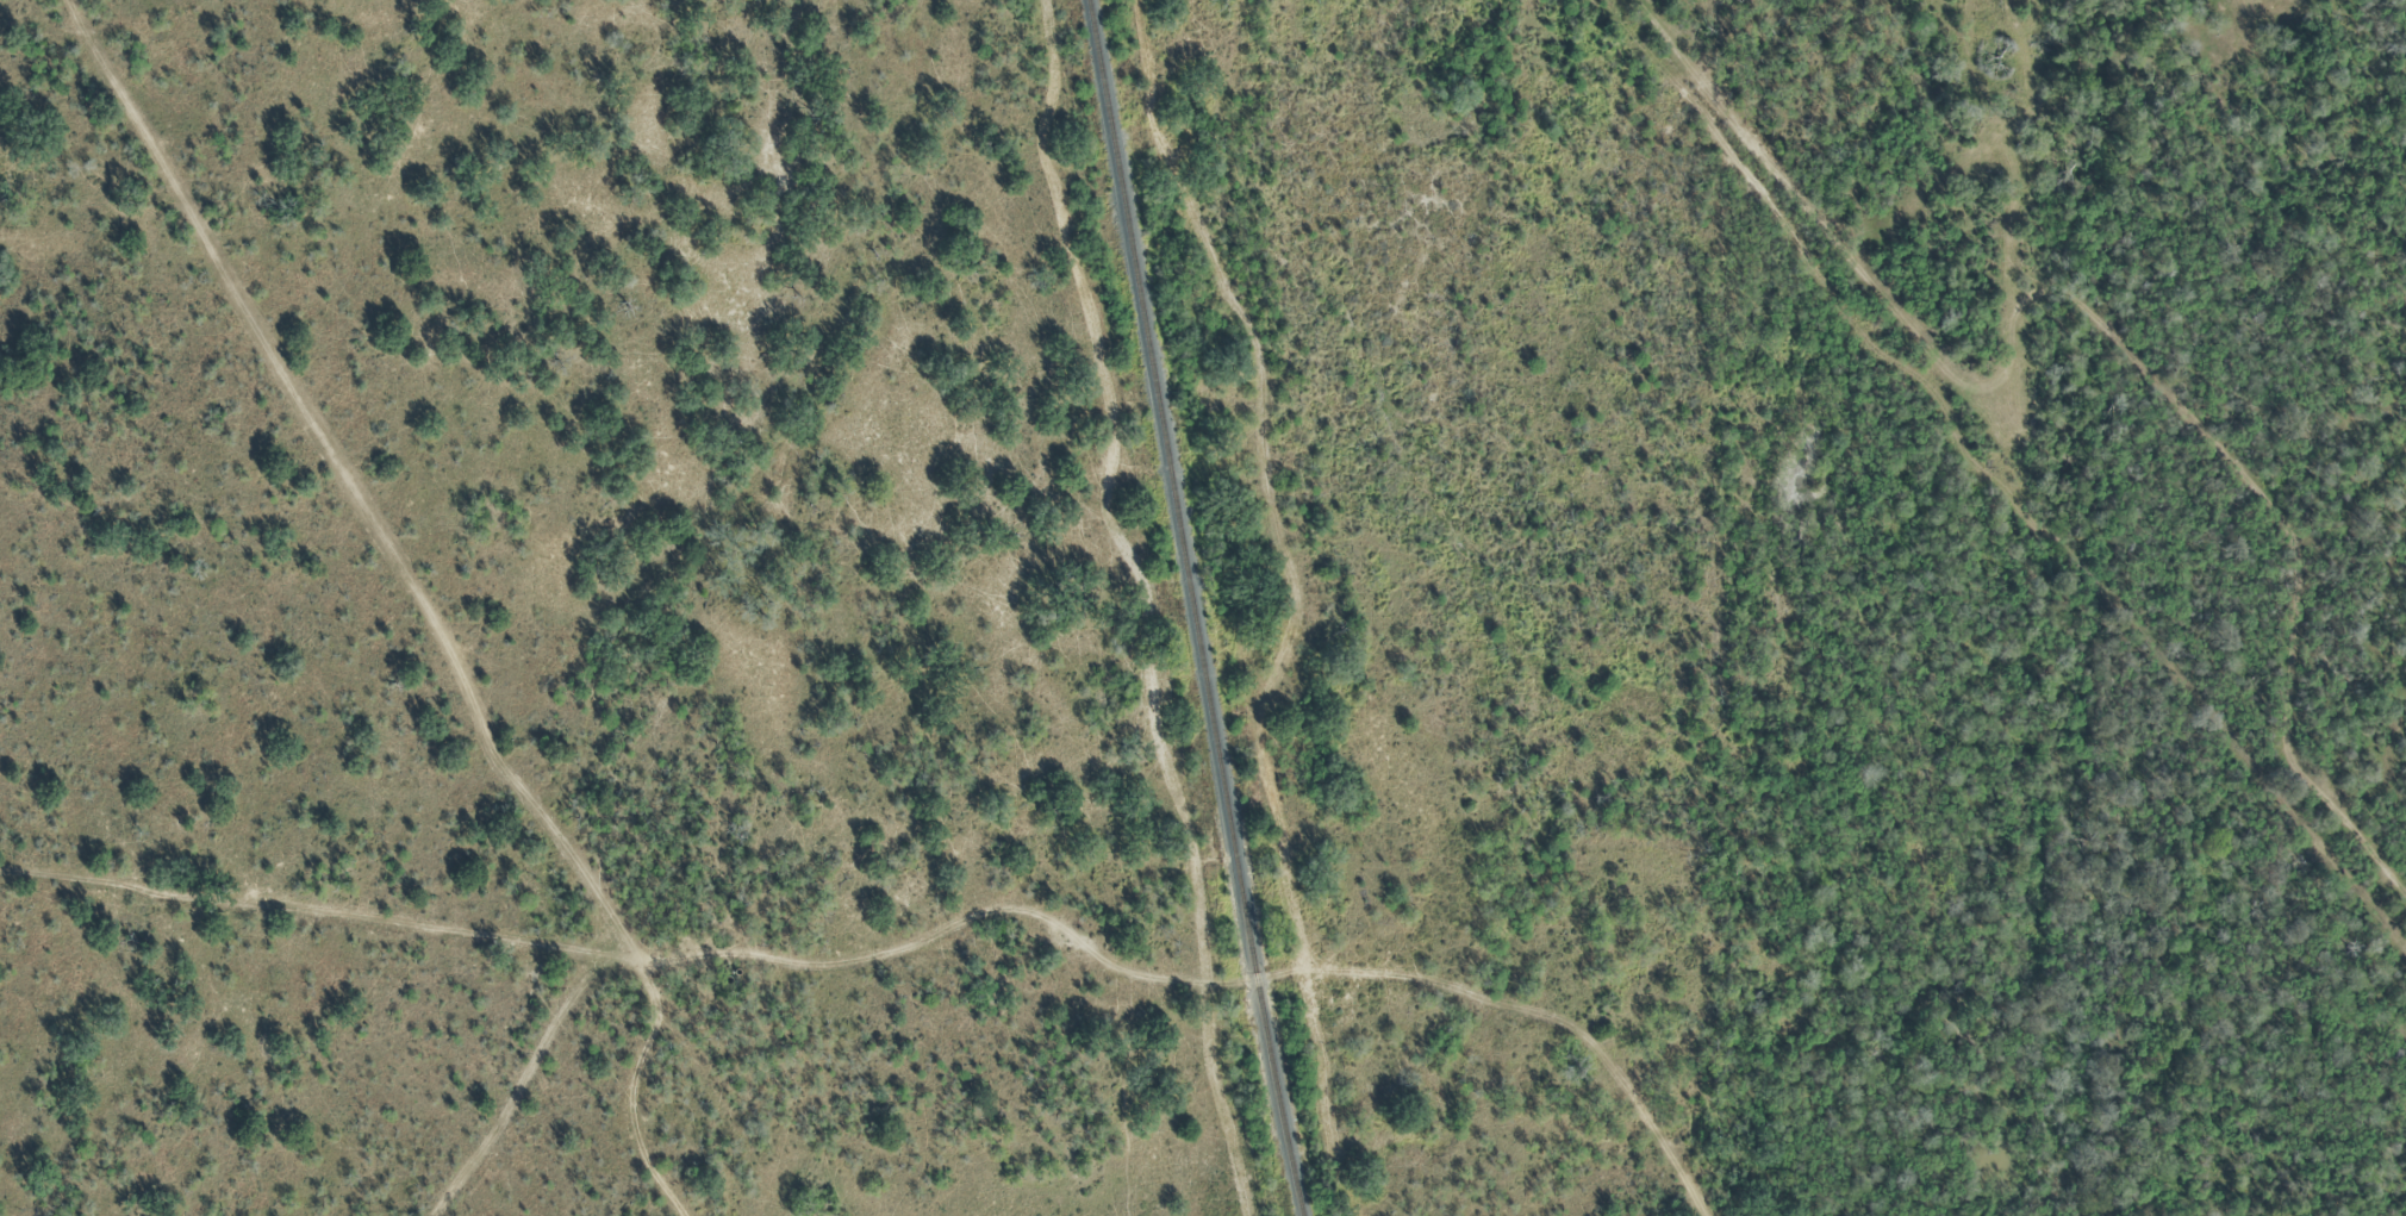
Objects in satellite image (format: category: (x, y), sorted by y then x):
railway: (1190, 609)

